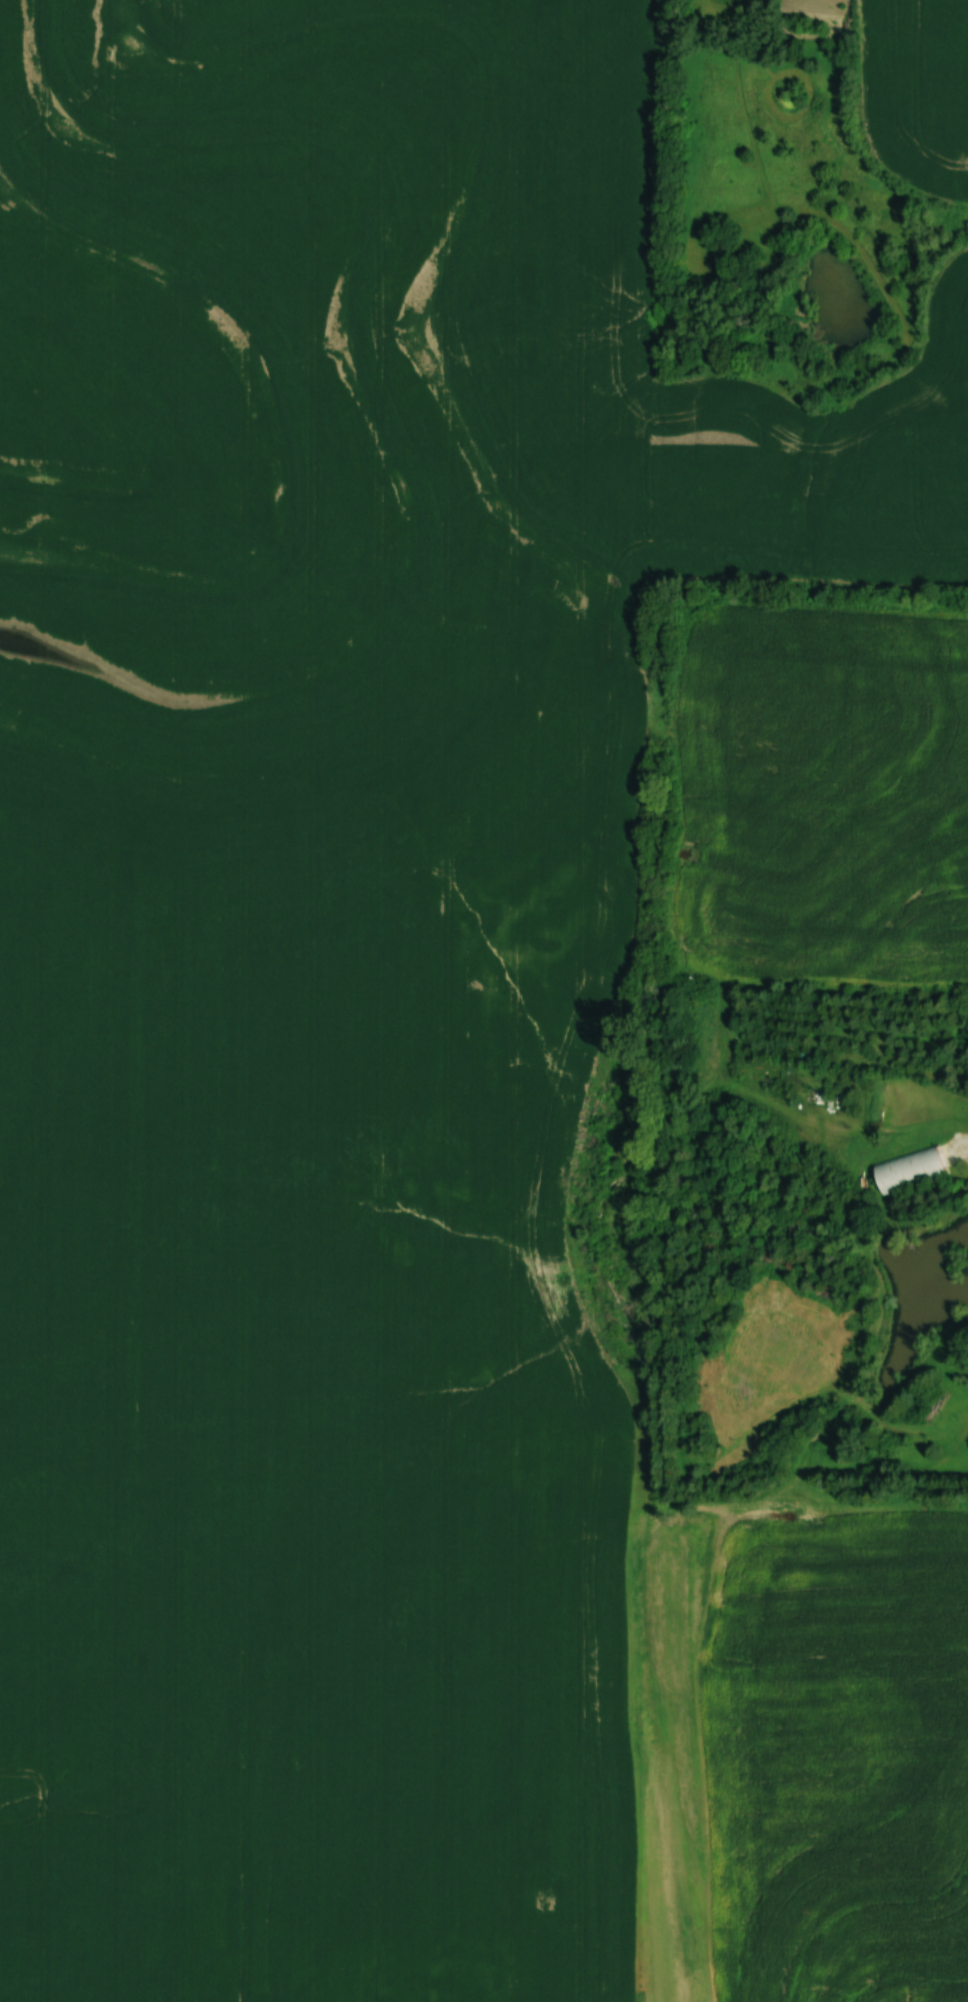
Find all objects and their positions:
building: (907, 1168)
airport runway: (677, 1925)

